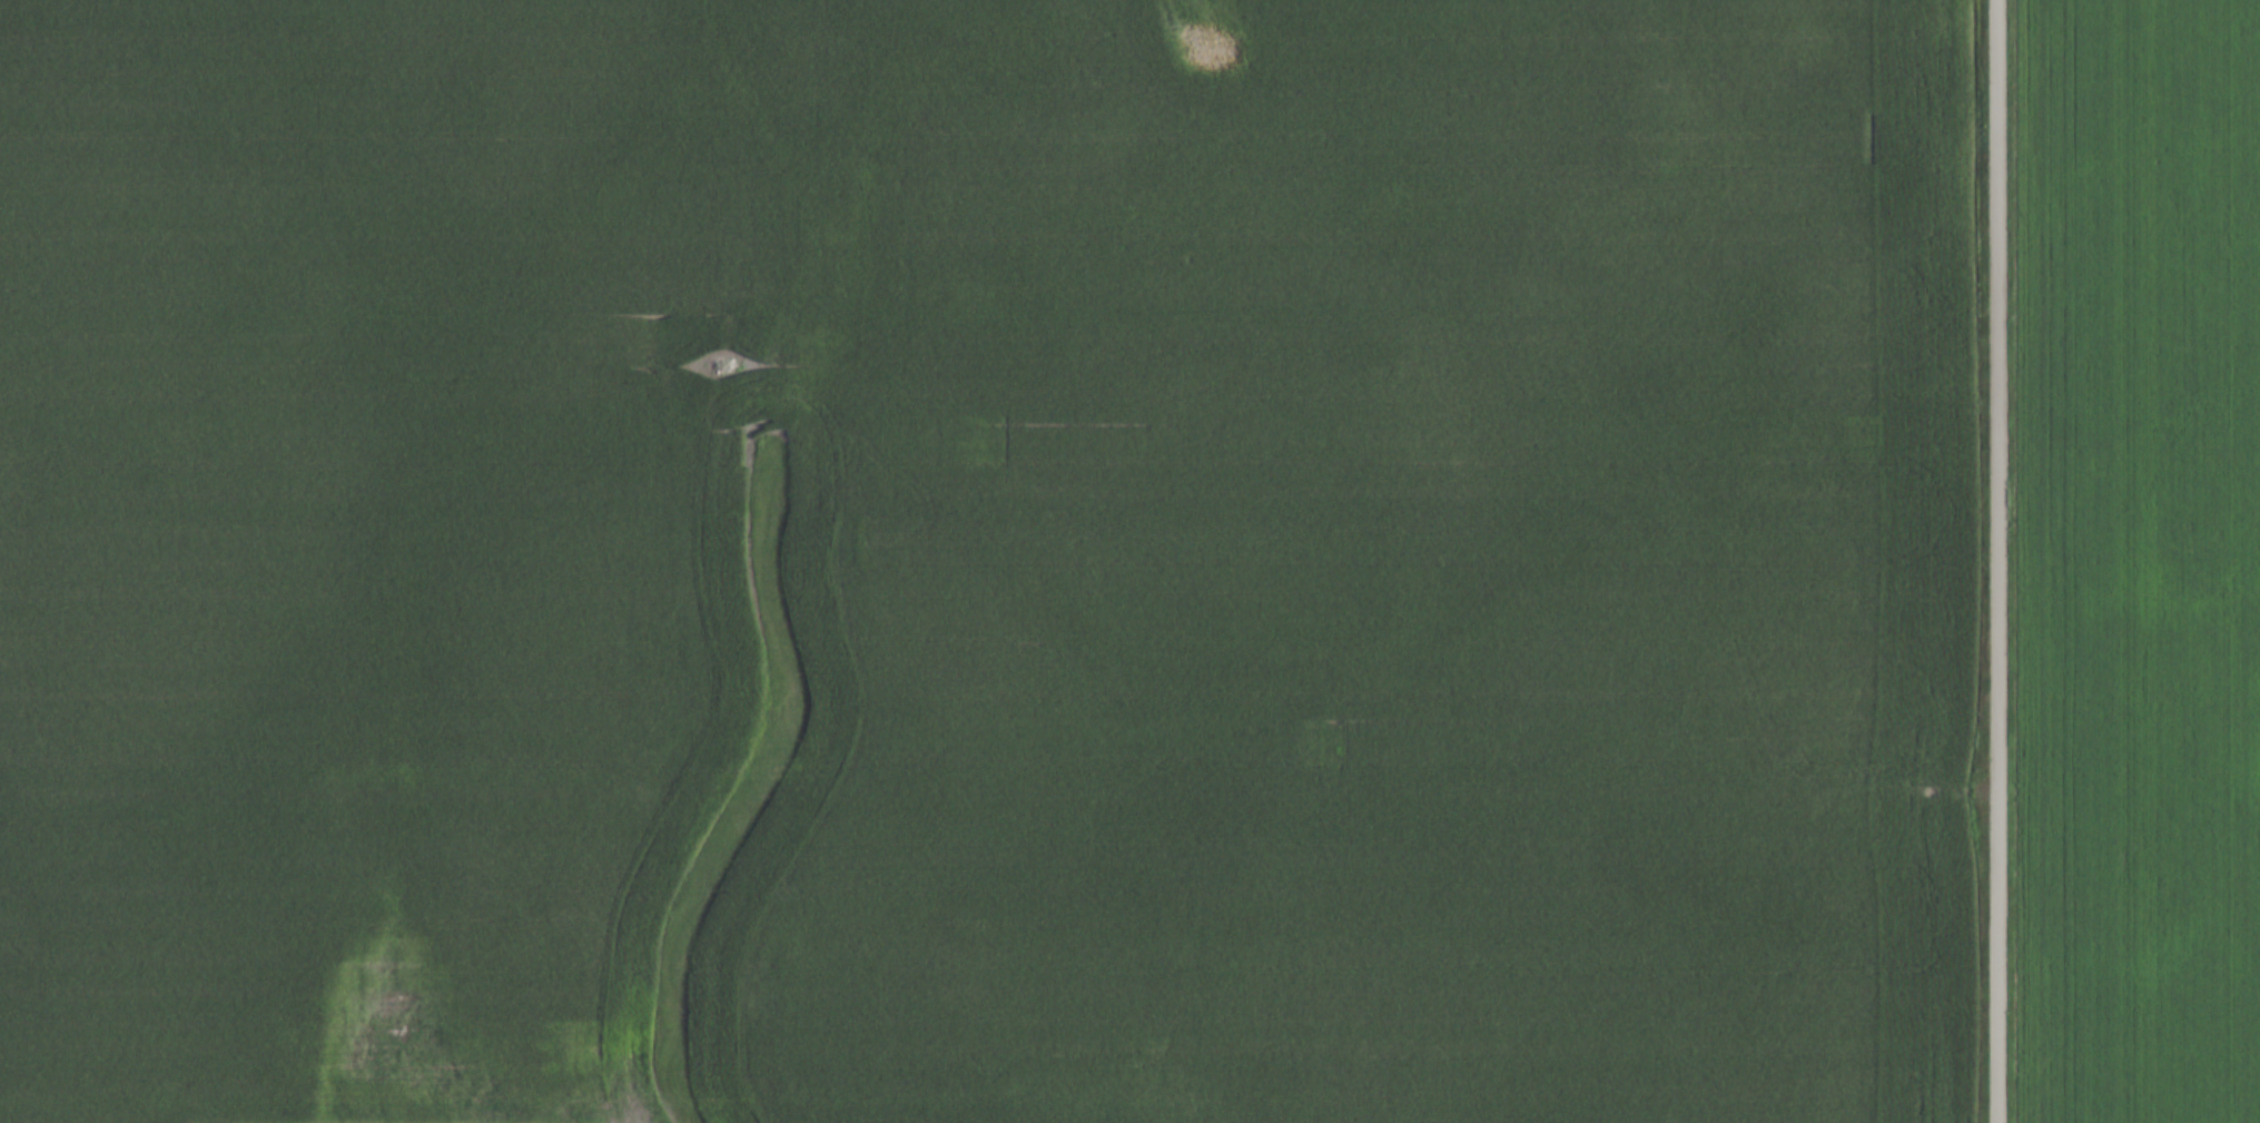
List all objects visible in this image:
road: (1996, 561)

